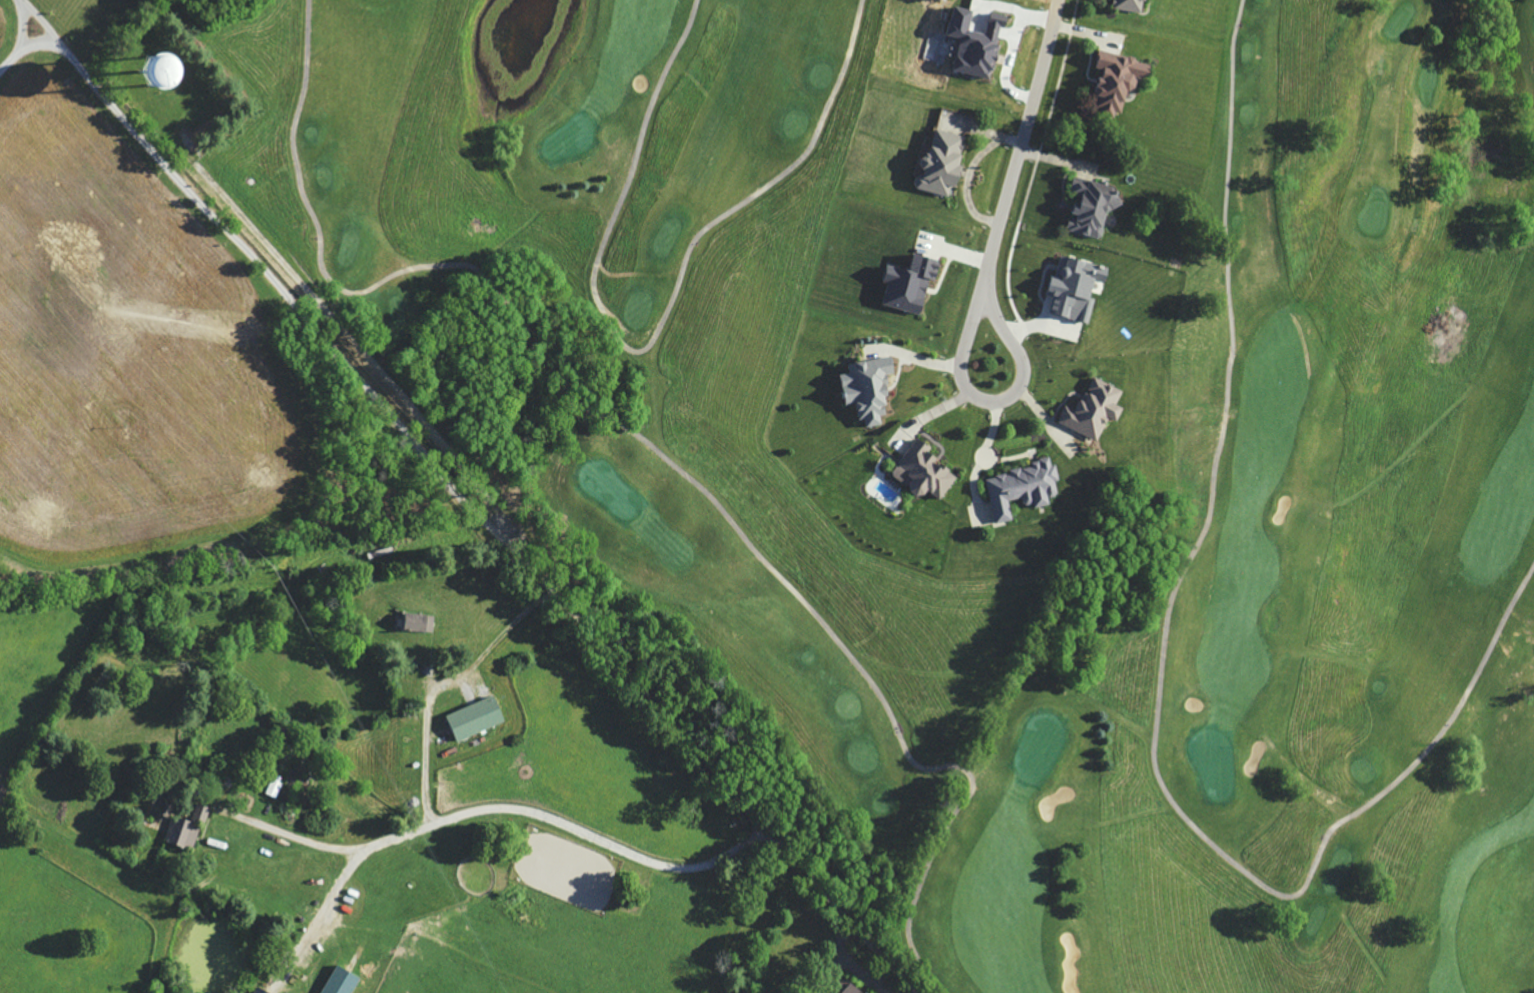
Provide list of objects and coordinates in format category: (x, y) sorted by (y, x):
building: (1135, 5)
building: (980, 45)
water tower: (157, 71)
building: (1125, 81)
road: (1023, 135)
building: (948, 165)
building: (1098, 208)
building: (916, 286)
building: (1081, 286)
building: (874, 388)
road: (995, 400)
building: (1100, 409)
road: (392, 417)
building: (929, 471)
building: (1028, 488)
park: (1335, 500)
building: (423, 623)
building: (481, 718)
road: (428, 746)
building: (190, 829)
road: (365, 846)
road: (677, 866)
building: (346, 982)
building: (856, 989)
building: (266, 990)

